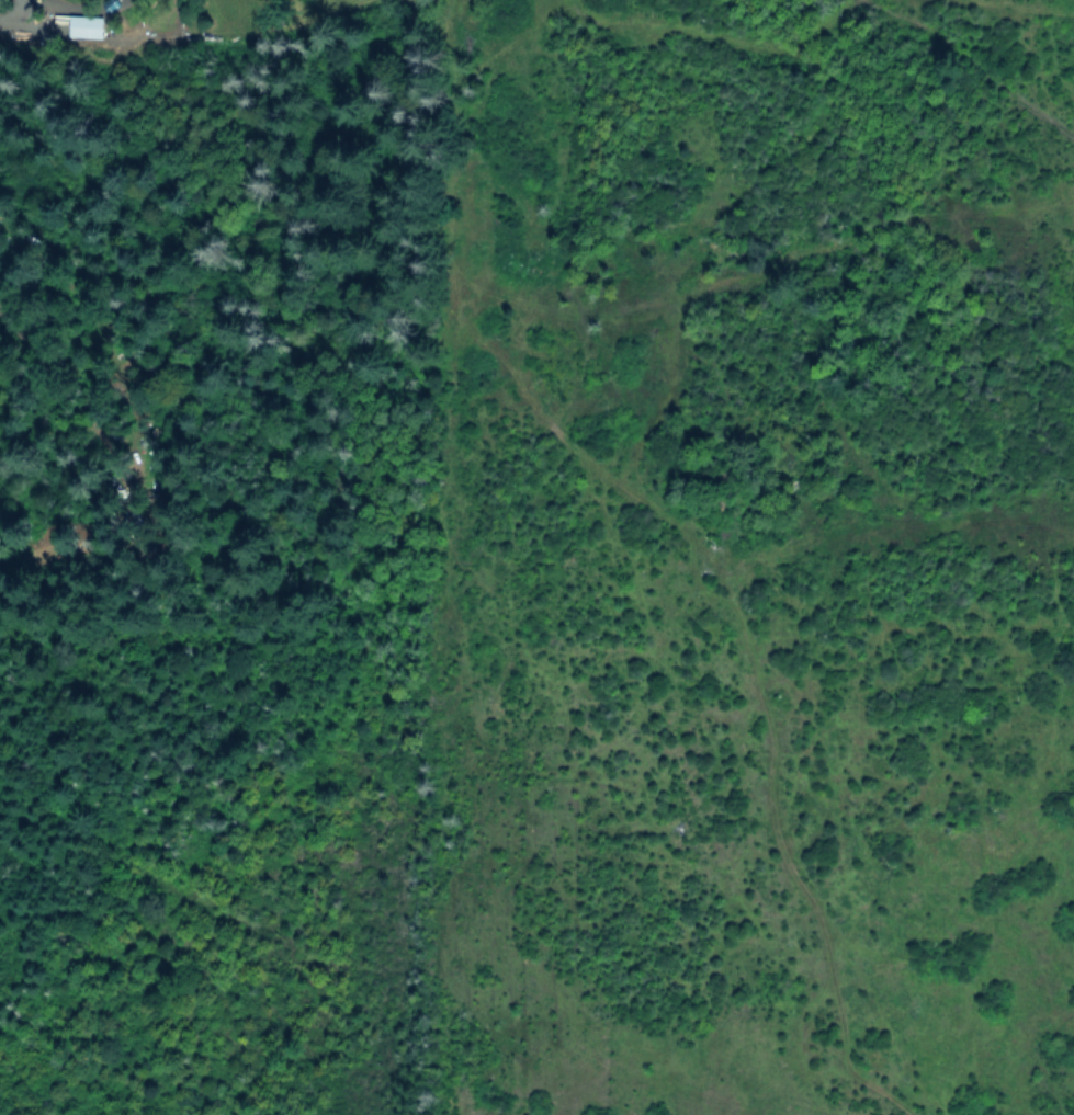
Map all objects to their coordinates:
road: (16, 14)
building: (87, 25)

